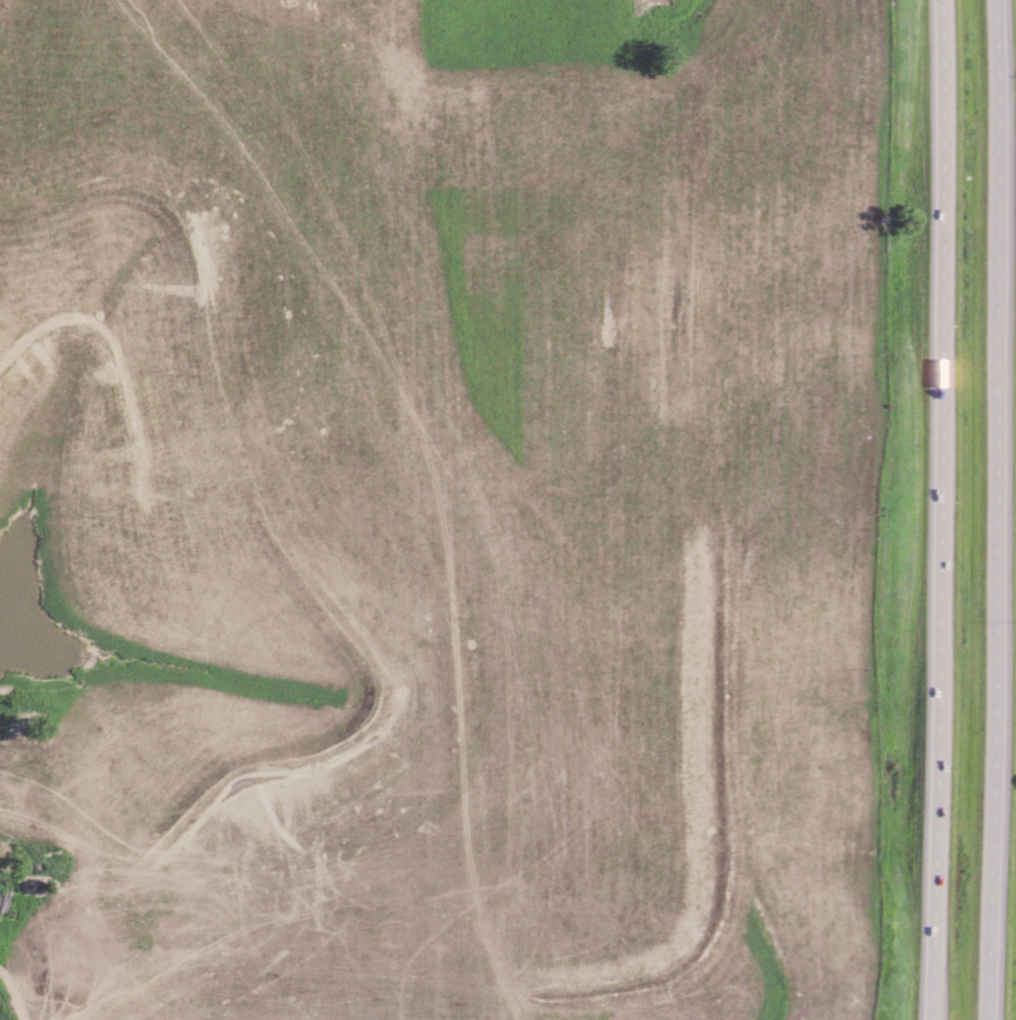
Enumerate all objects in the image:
road: (939, 509)
road: (999, 509)
road: (16, 990)

